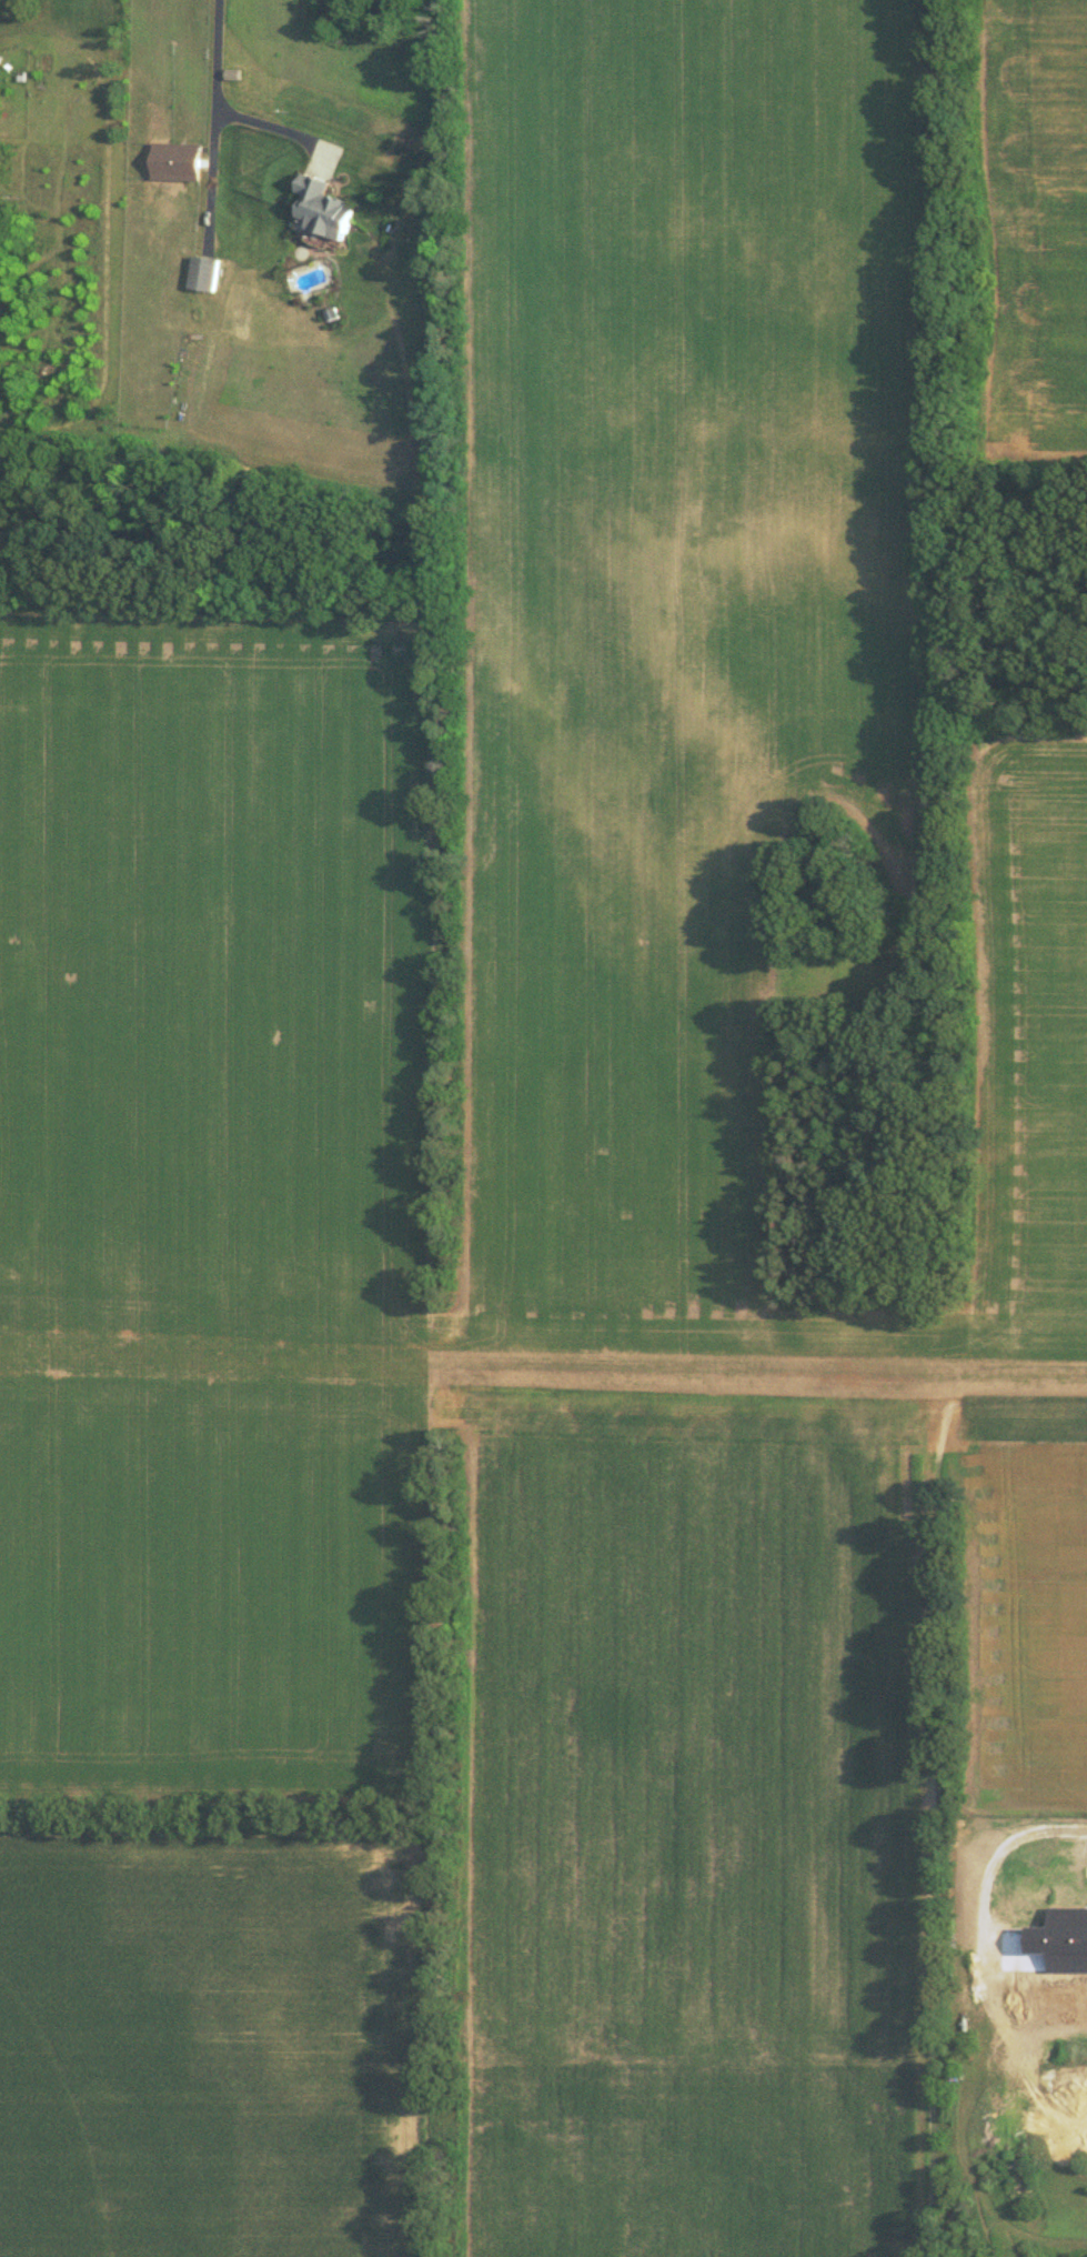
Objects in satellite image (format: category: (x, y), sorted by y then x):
road: (210, 98)
building: (172, 159)
building: (321, 205)
building: (200, 271)
crop: (705, 660)
crop: (721, 702)
crop: (199, 989)
airport runway: (543, 1360)
crop: (240, 1597)
crop: (1023, 1604)
crop: (722, 1822)
crop: (215, 2033)

